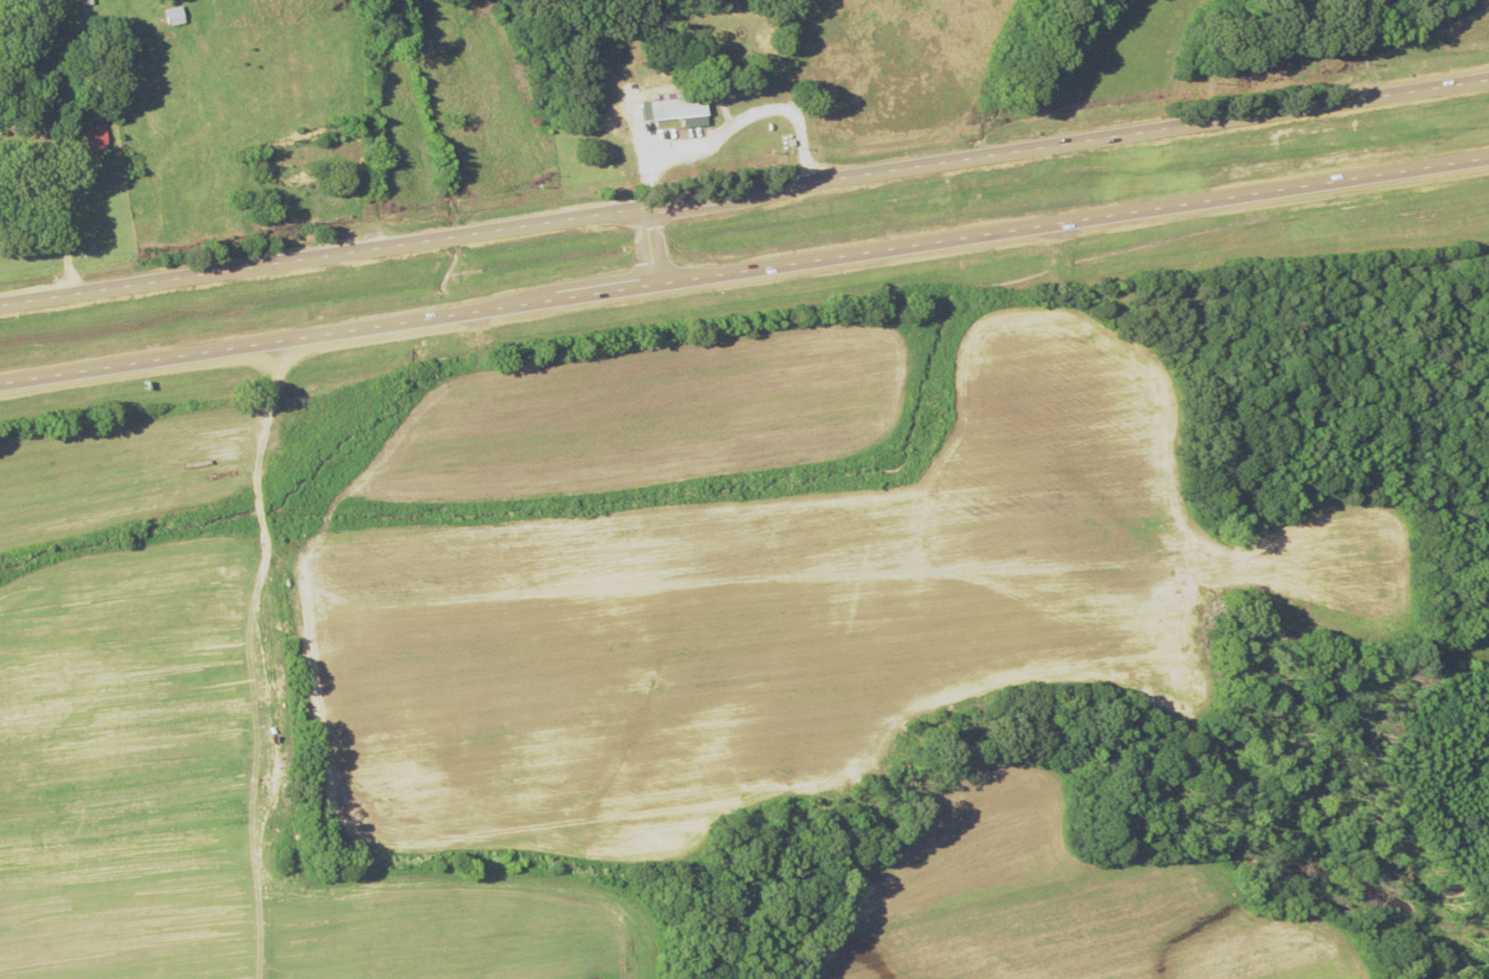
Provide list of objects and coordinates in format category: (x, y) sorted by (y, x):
building: (171, 16)
building: (724, 34)
road: (795, 90)
building: (676, 110)
road: (344, 123)
building: (88, 140)
road: (744, 191)
road: (650, 245)
road: (744, 269)

